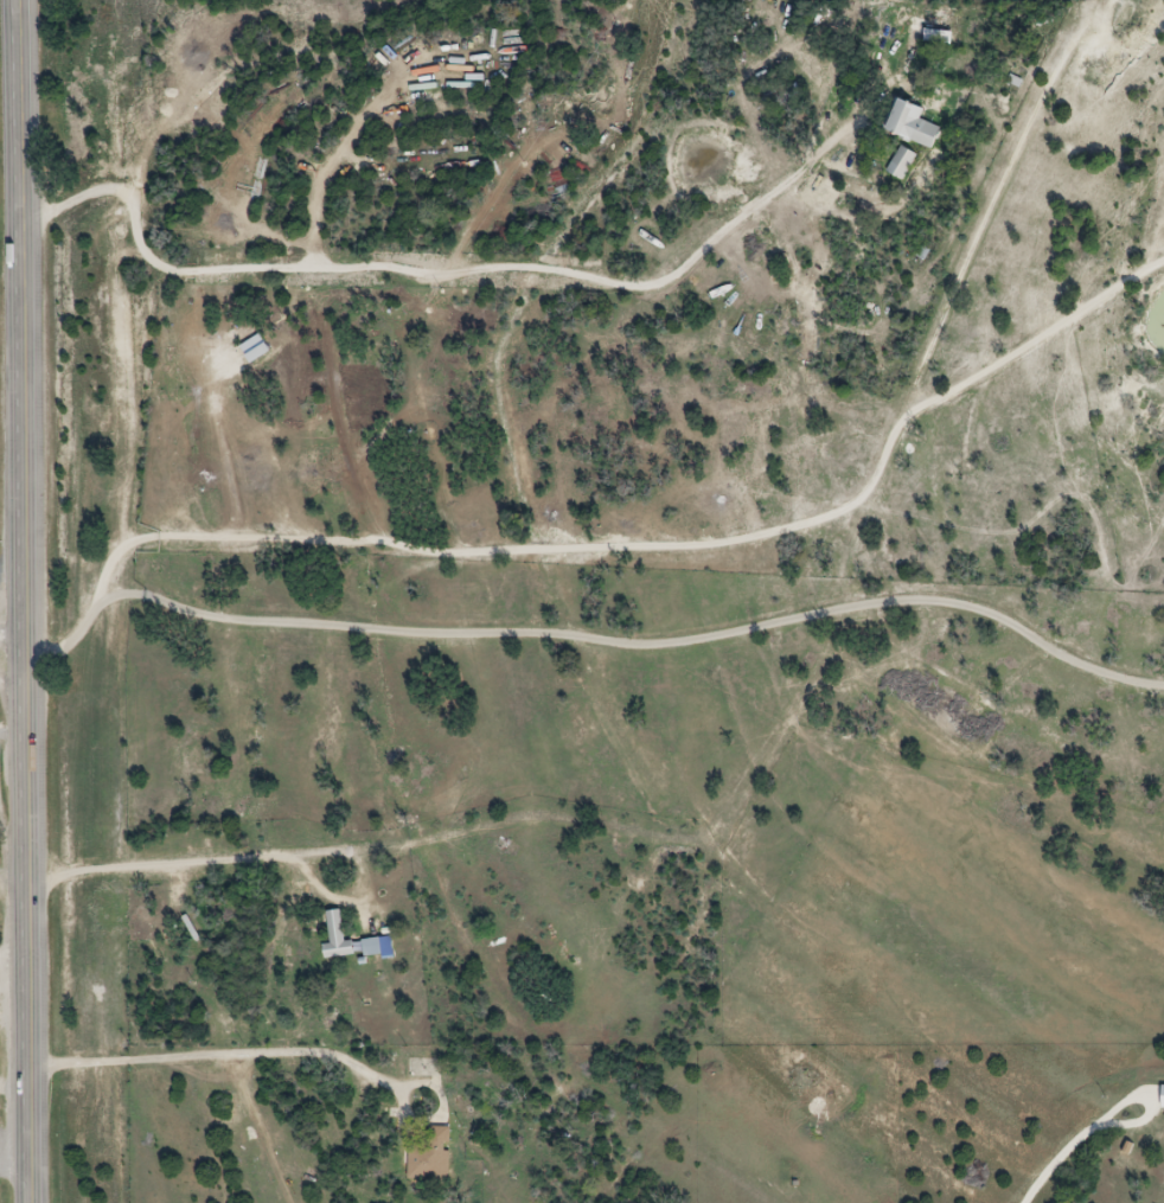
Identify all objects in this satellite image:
building: (904, 123)
building: (897, 162)
road: (661, 546)
road: (27, 601)
road: (66, 635)
road: (644, 640)
road: (261, 856)
building: (341, 936)
building: (382, 947)
road: (203, 1054)
road: (1076, 1138)
building: (431, 1163)

